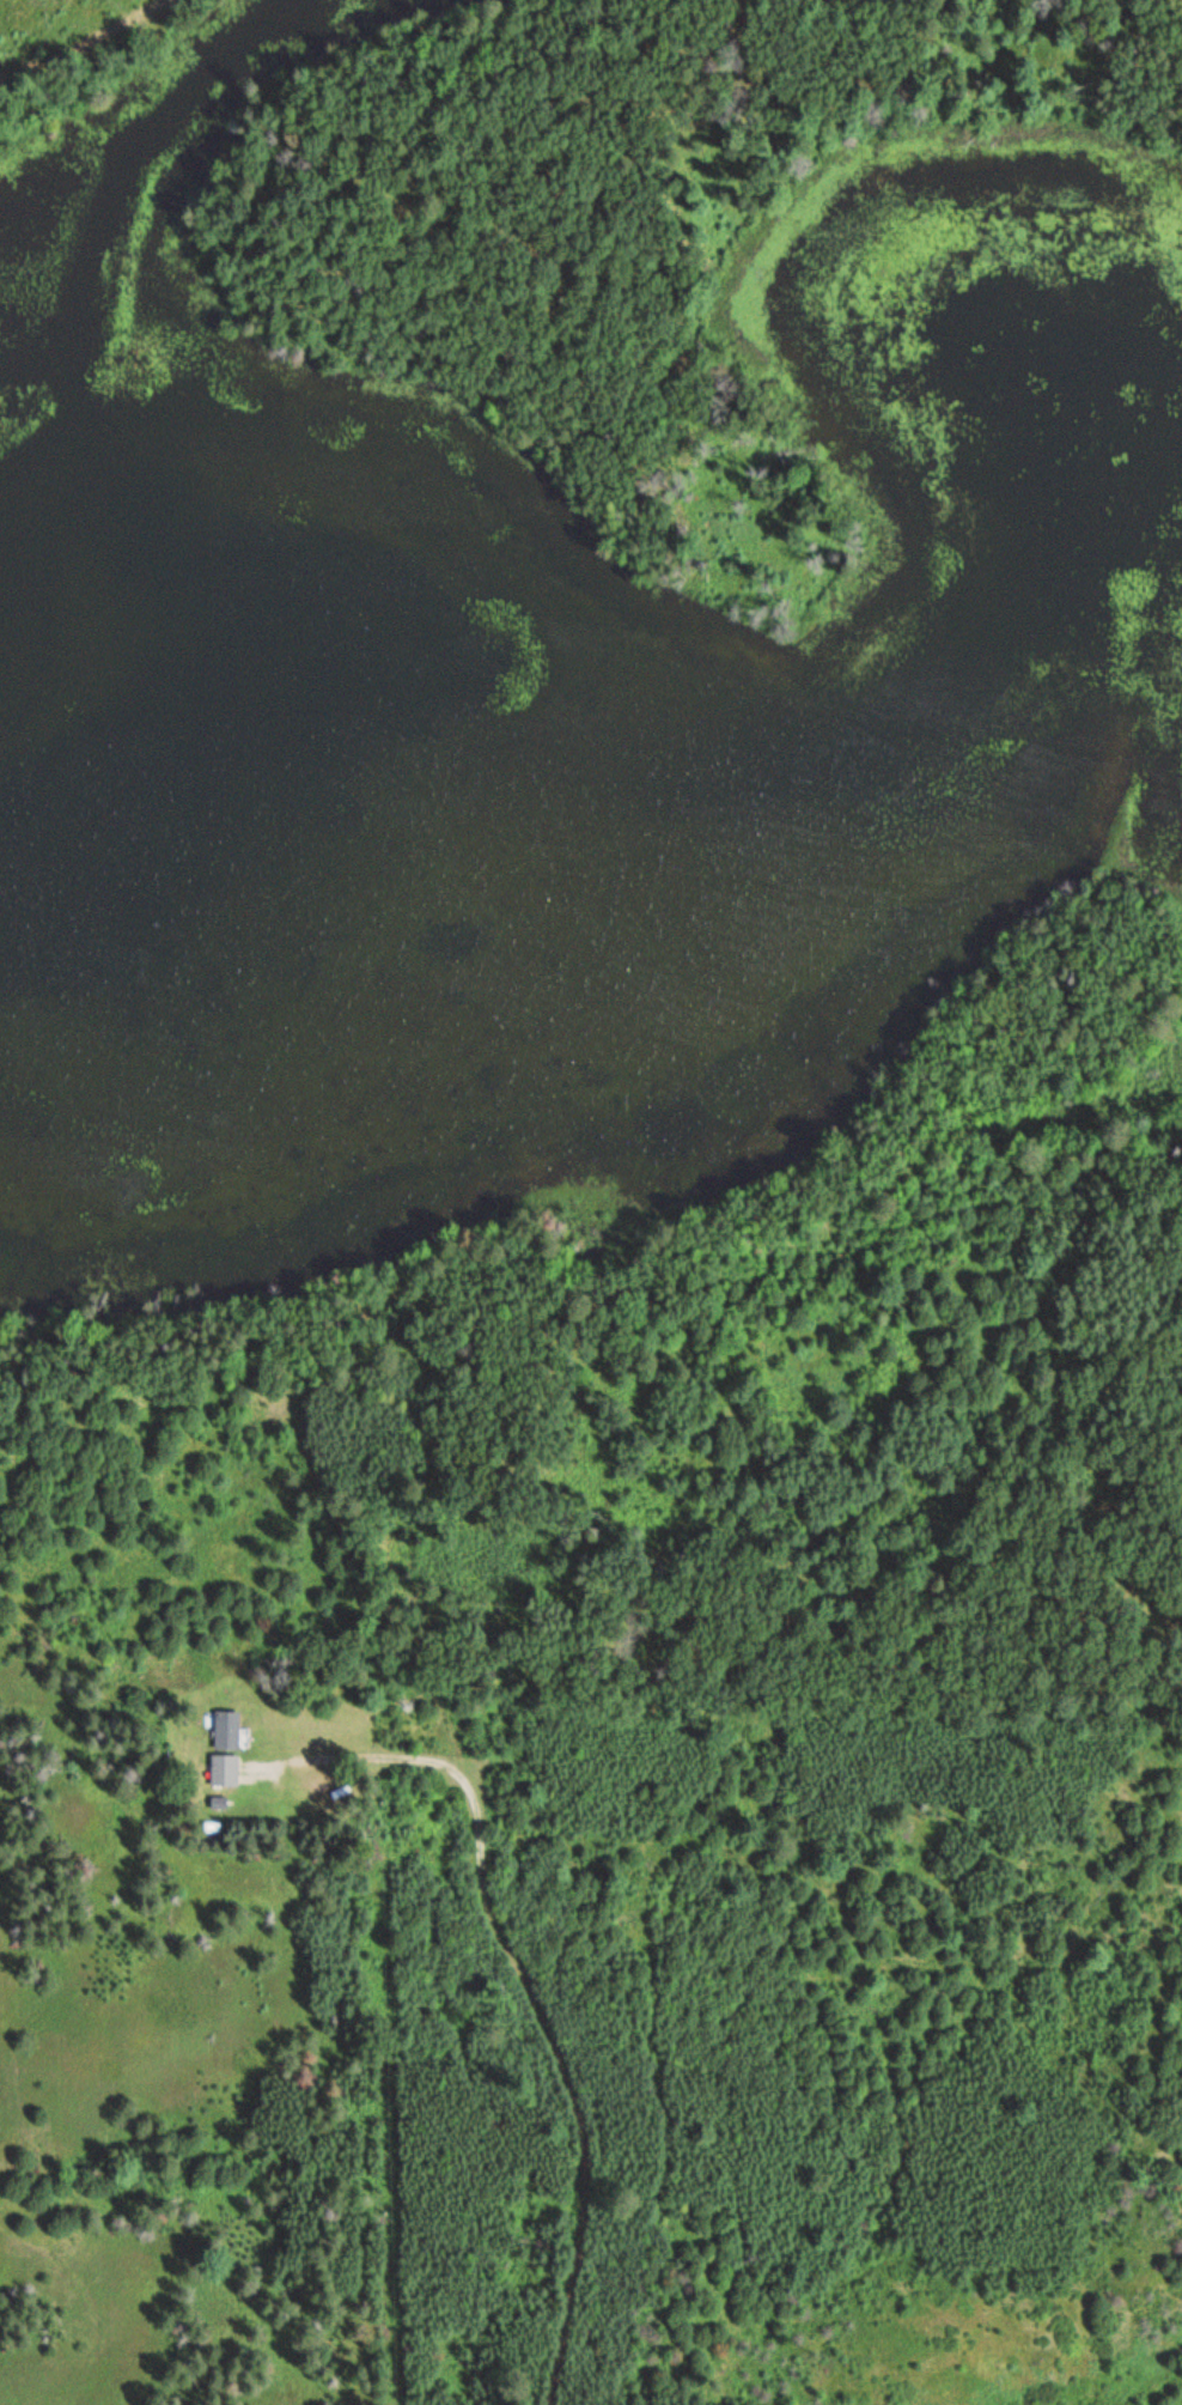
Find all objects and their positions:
park: (74, 49)
building: (229, 1730)
building: (226, 1769)
road: (1043, 2365)

